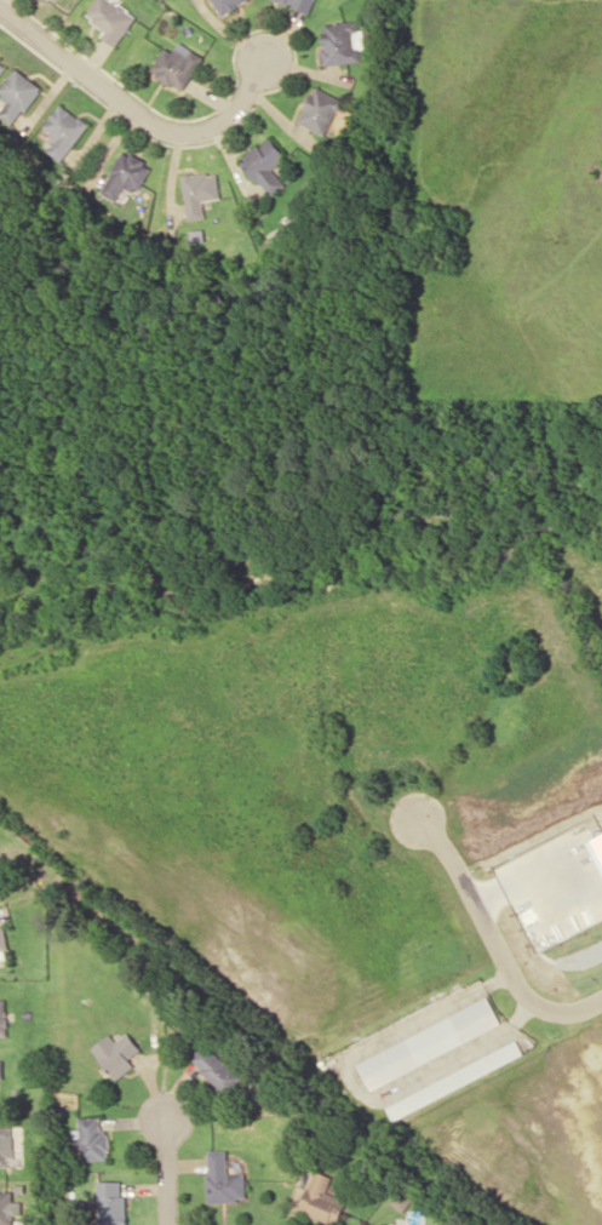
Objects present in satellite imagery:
building: (299, 4)
building: (229, 5)
building: (111, 19)
building: (342, 42)
building: (2, 63)
building: (177, 65)
building: (16, 97)
road: (136, 109)
building: (320, 110)
building: (63, 131)
building: (265, 166)
building: (125, 176)
building: (199, 193)
road: (495, 941)
building: (2, 946)
building: (2, 1018)
building: (428, 1043)
building: (115, 1054)
building: (0, 1070)
building: (214, 1070)
building: (91, 1139)
building: (5, 1145)
road: (168, 1172)
building: (223, 1179)
building: (321, 1200)
building: (400, 1200)
building: (109, 1202)
building: (5, 1208)
building: (379, 1224)

